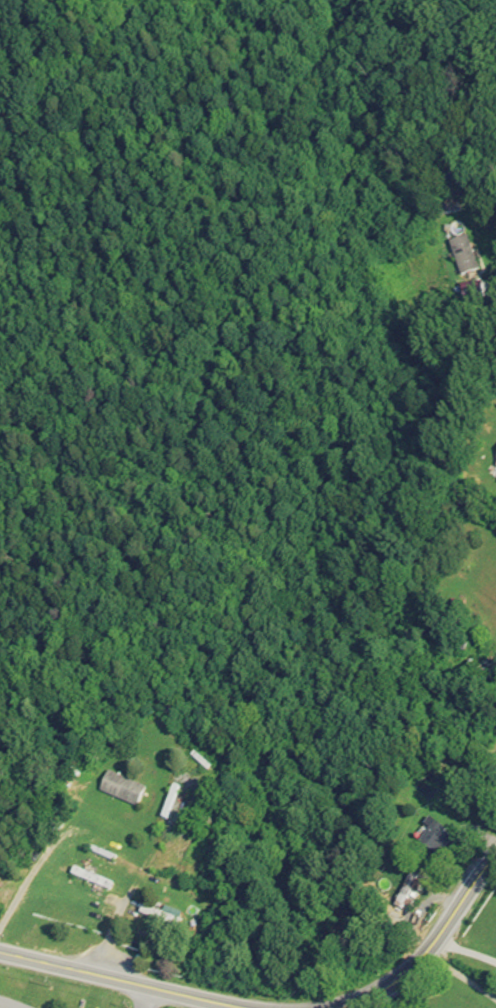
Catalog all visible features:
building: (465, 258)
road: (477, 635)
building: (480, 671)
building: (165, 714)
building: (123, 791)
building: (435, 837)
building: (92, 878)
building: (400, 889)
road: (117, 904)
road: (466, 950)
road: (428, 951)
road: (461, 975)
road: (131, 981)
road: (145, 996)
road: (8, 1003)

